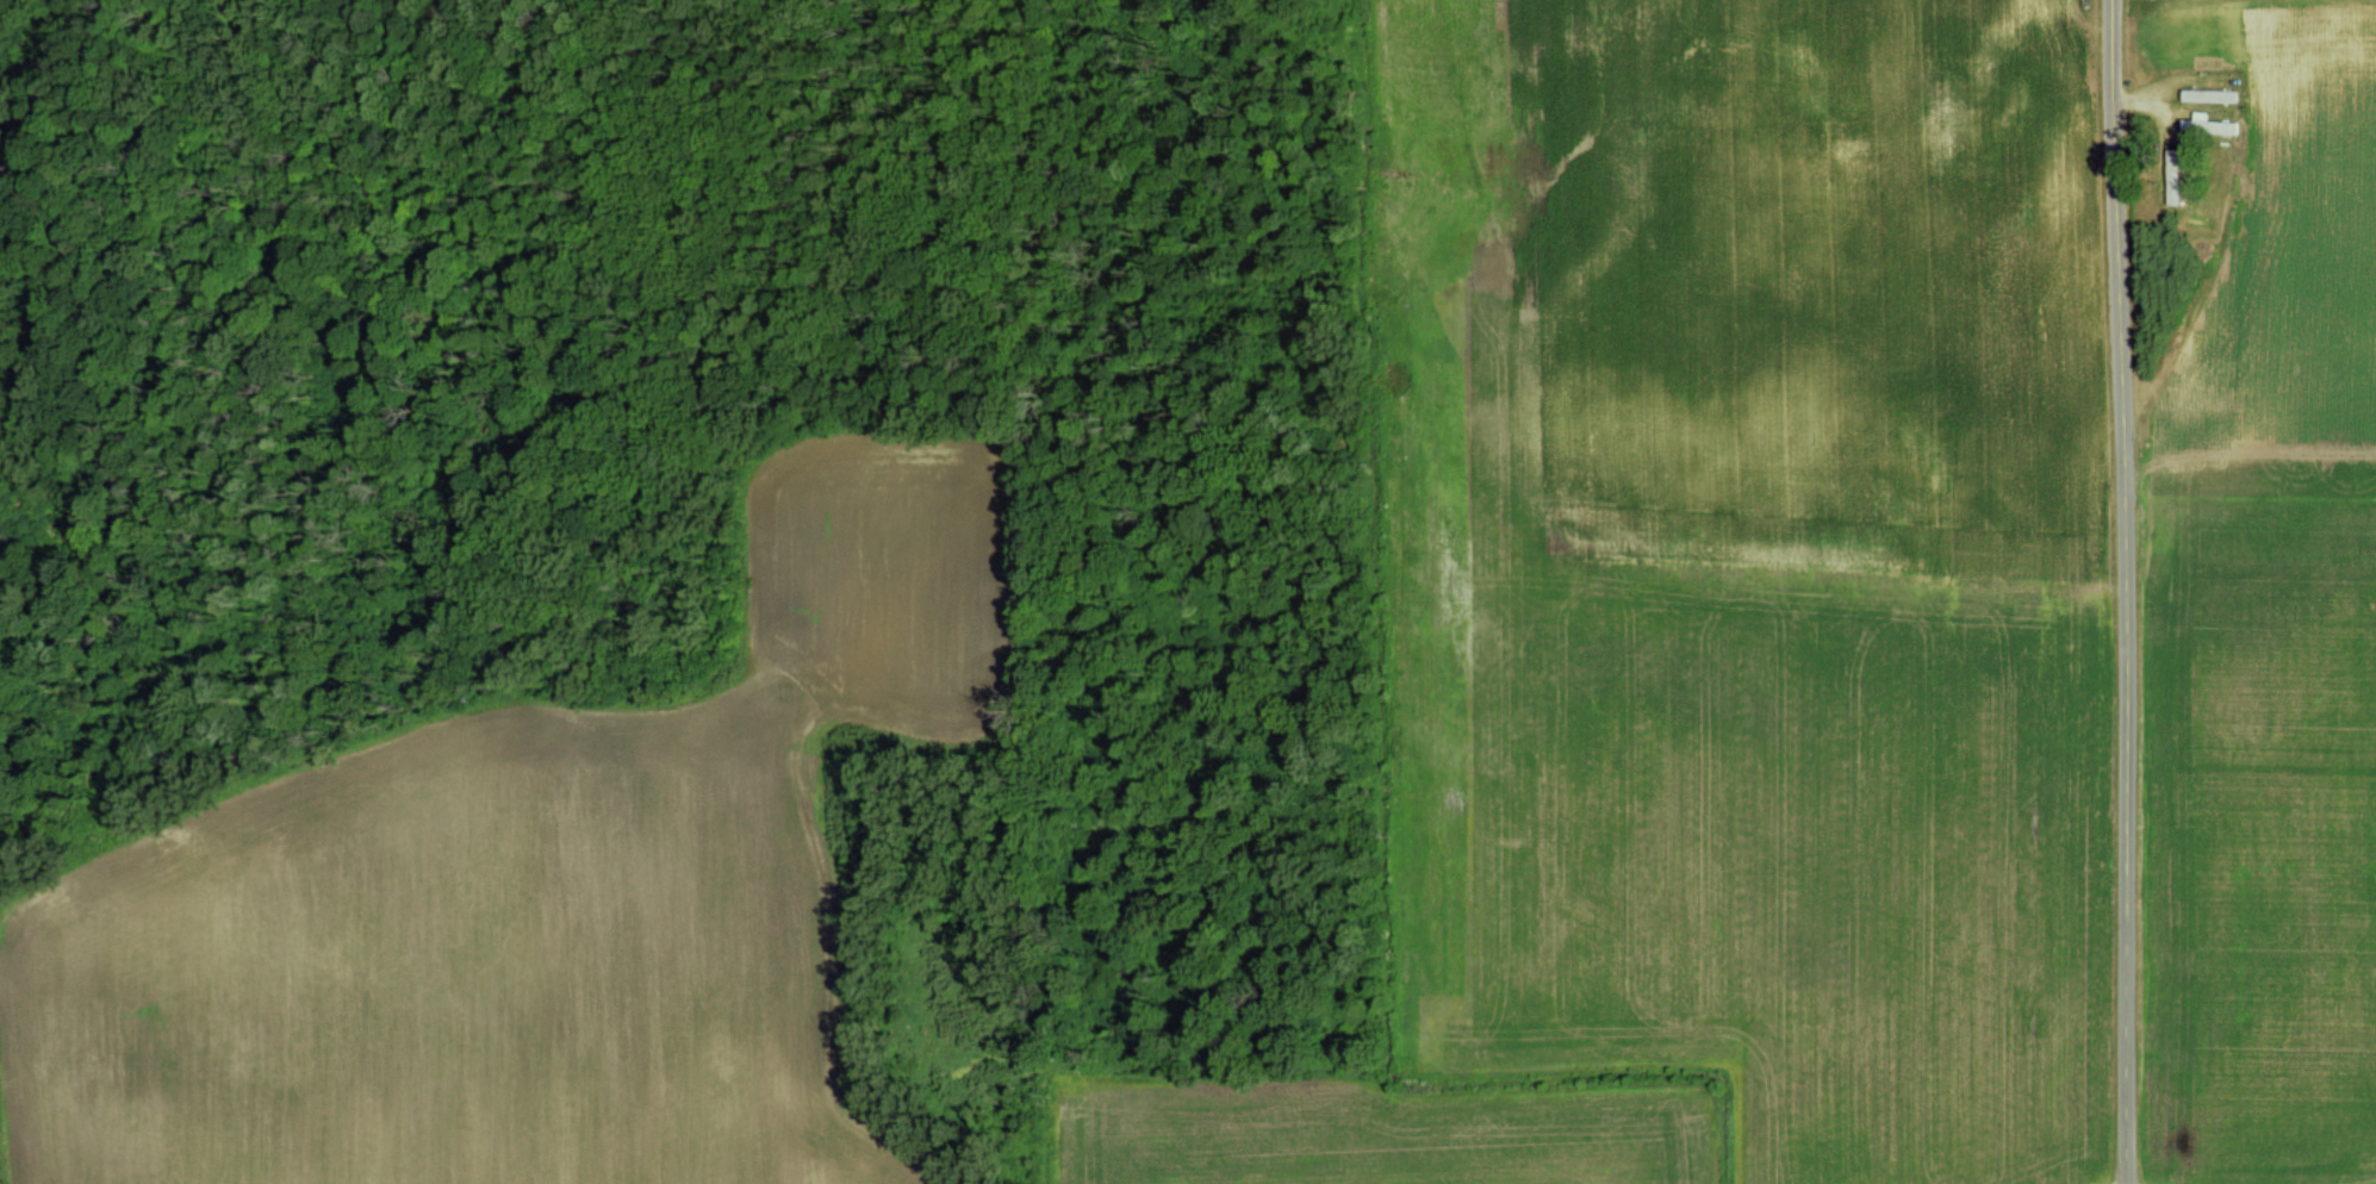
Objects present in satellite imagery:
road: (2122, 592)

